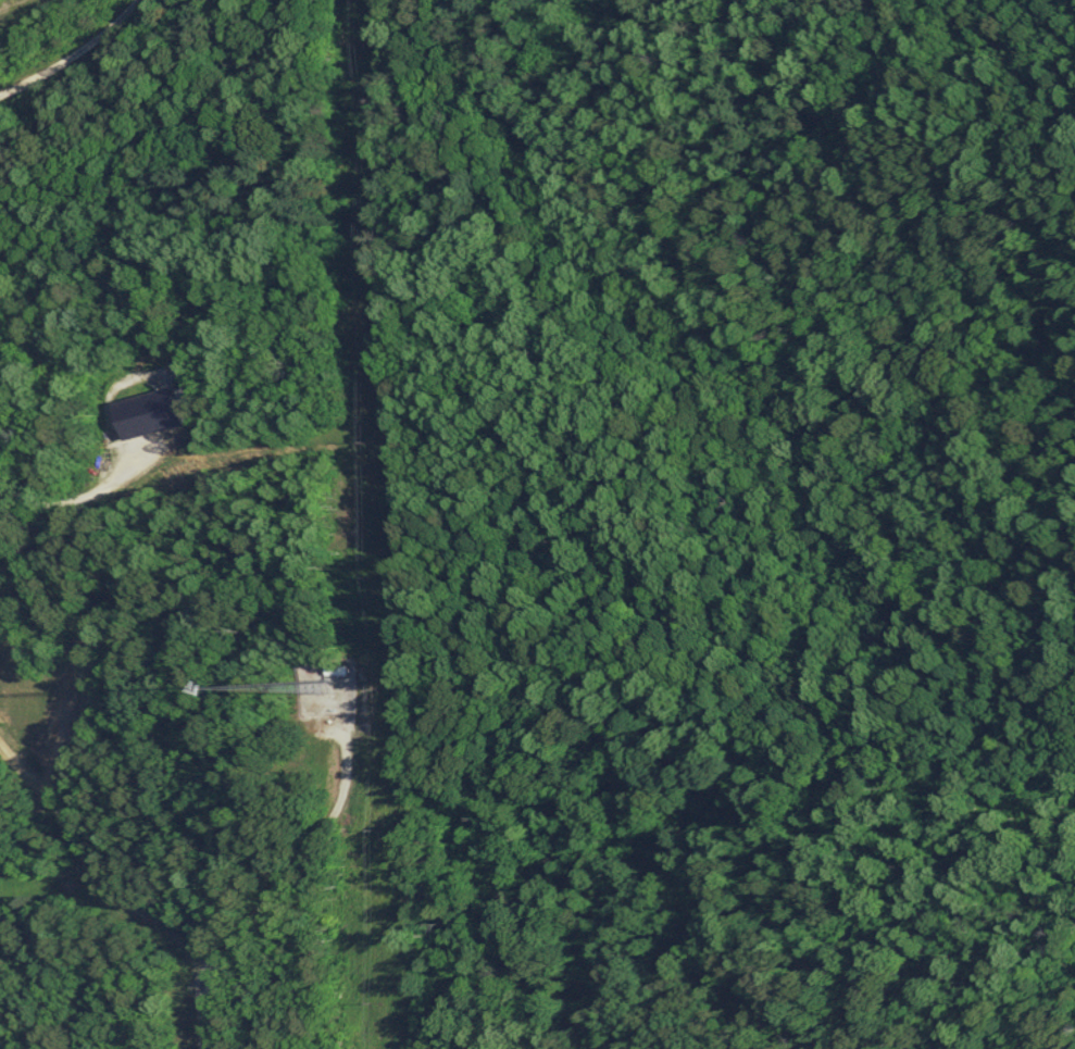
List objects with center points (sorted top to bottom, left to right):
road: (71, 55)
road: (262, 901)

